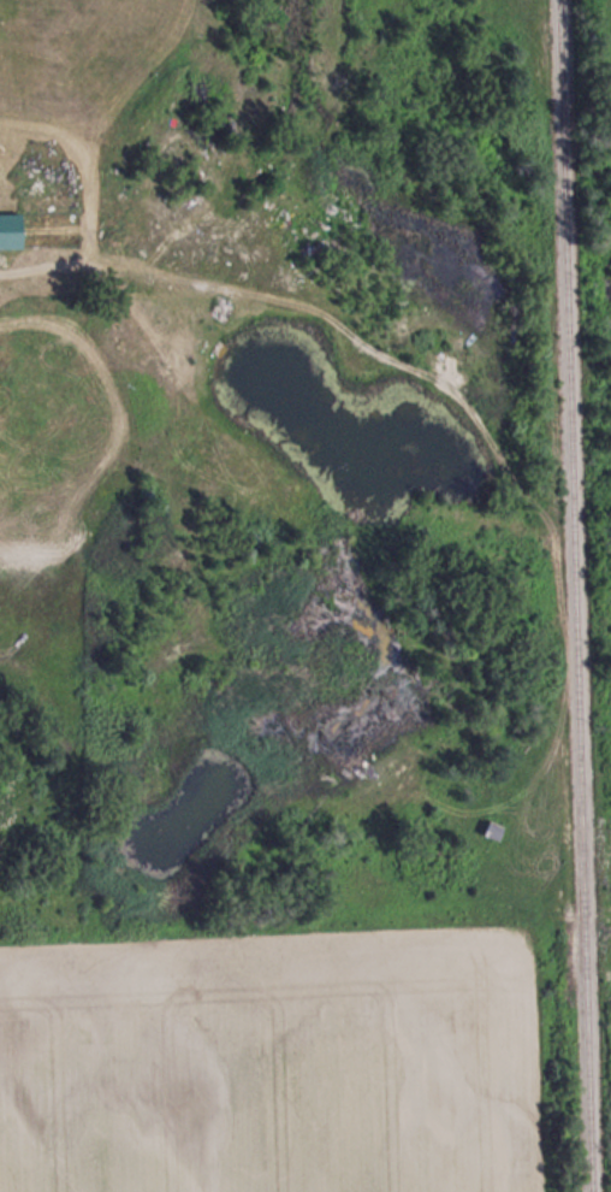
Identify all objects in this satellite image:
building: (10, 229)
road: (188, 344)
railway: (576, 596)
building: (493, 830)

